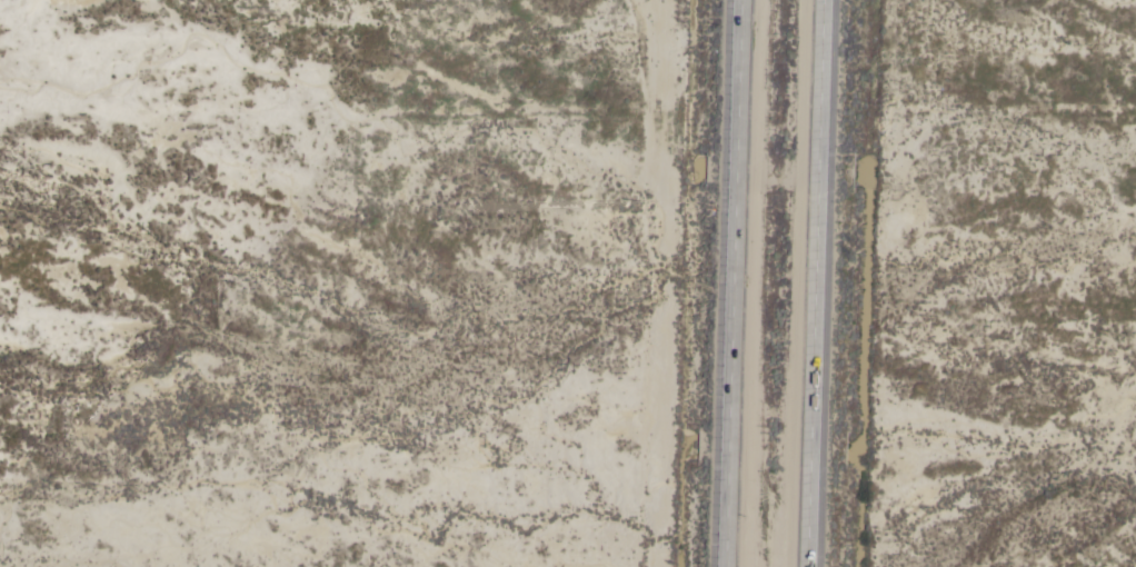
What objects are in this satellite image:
road: (734, 283)
road: (813, 283)

